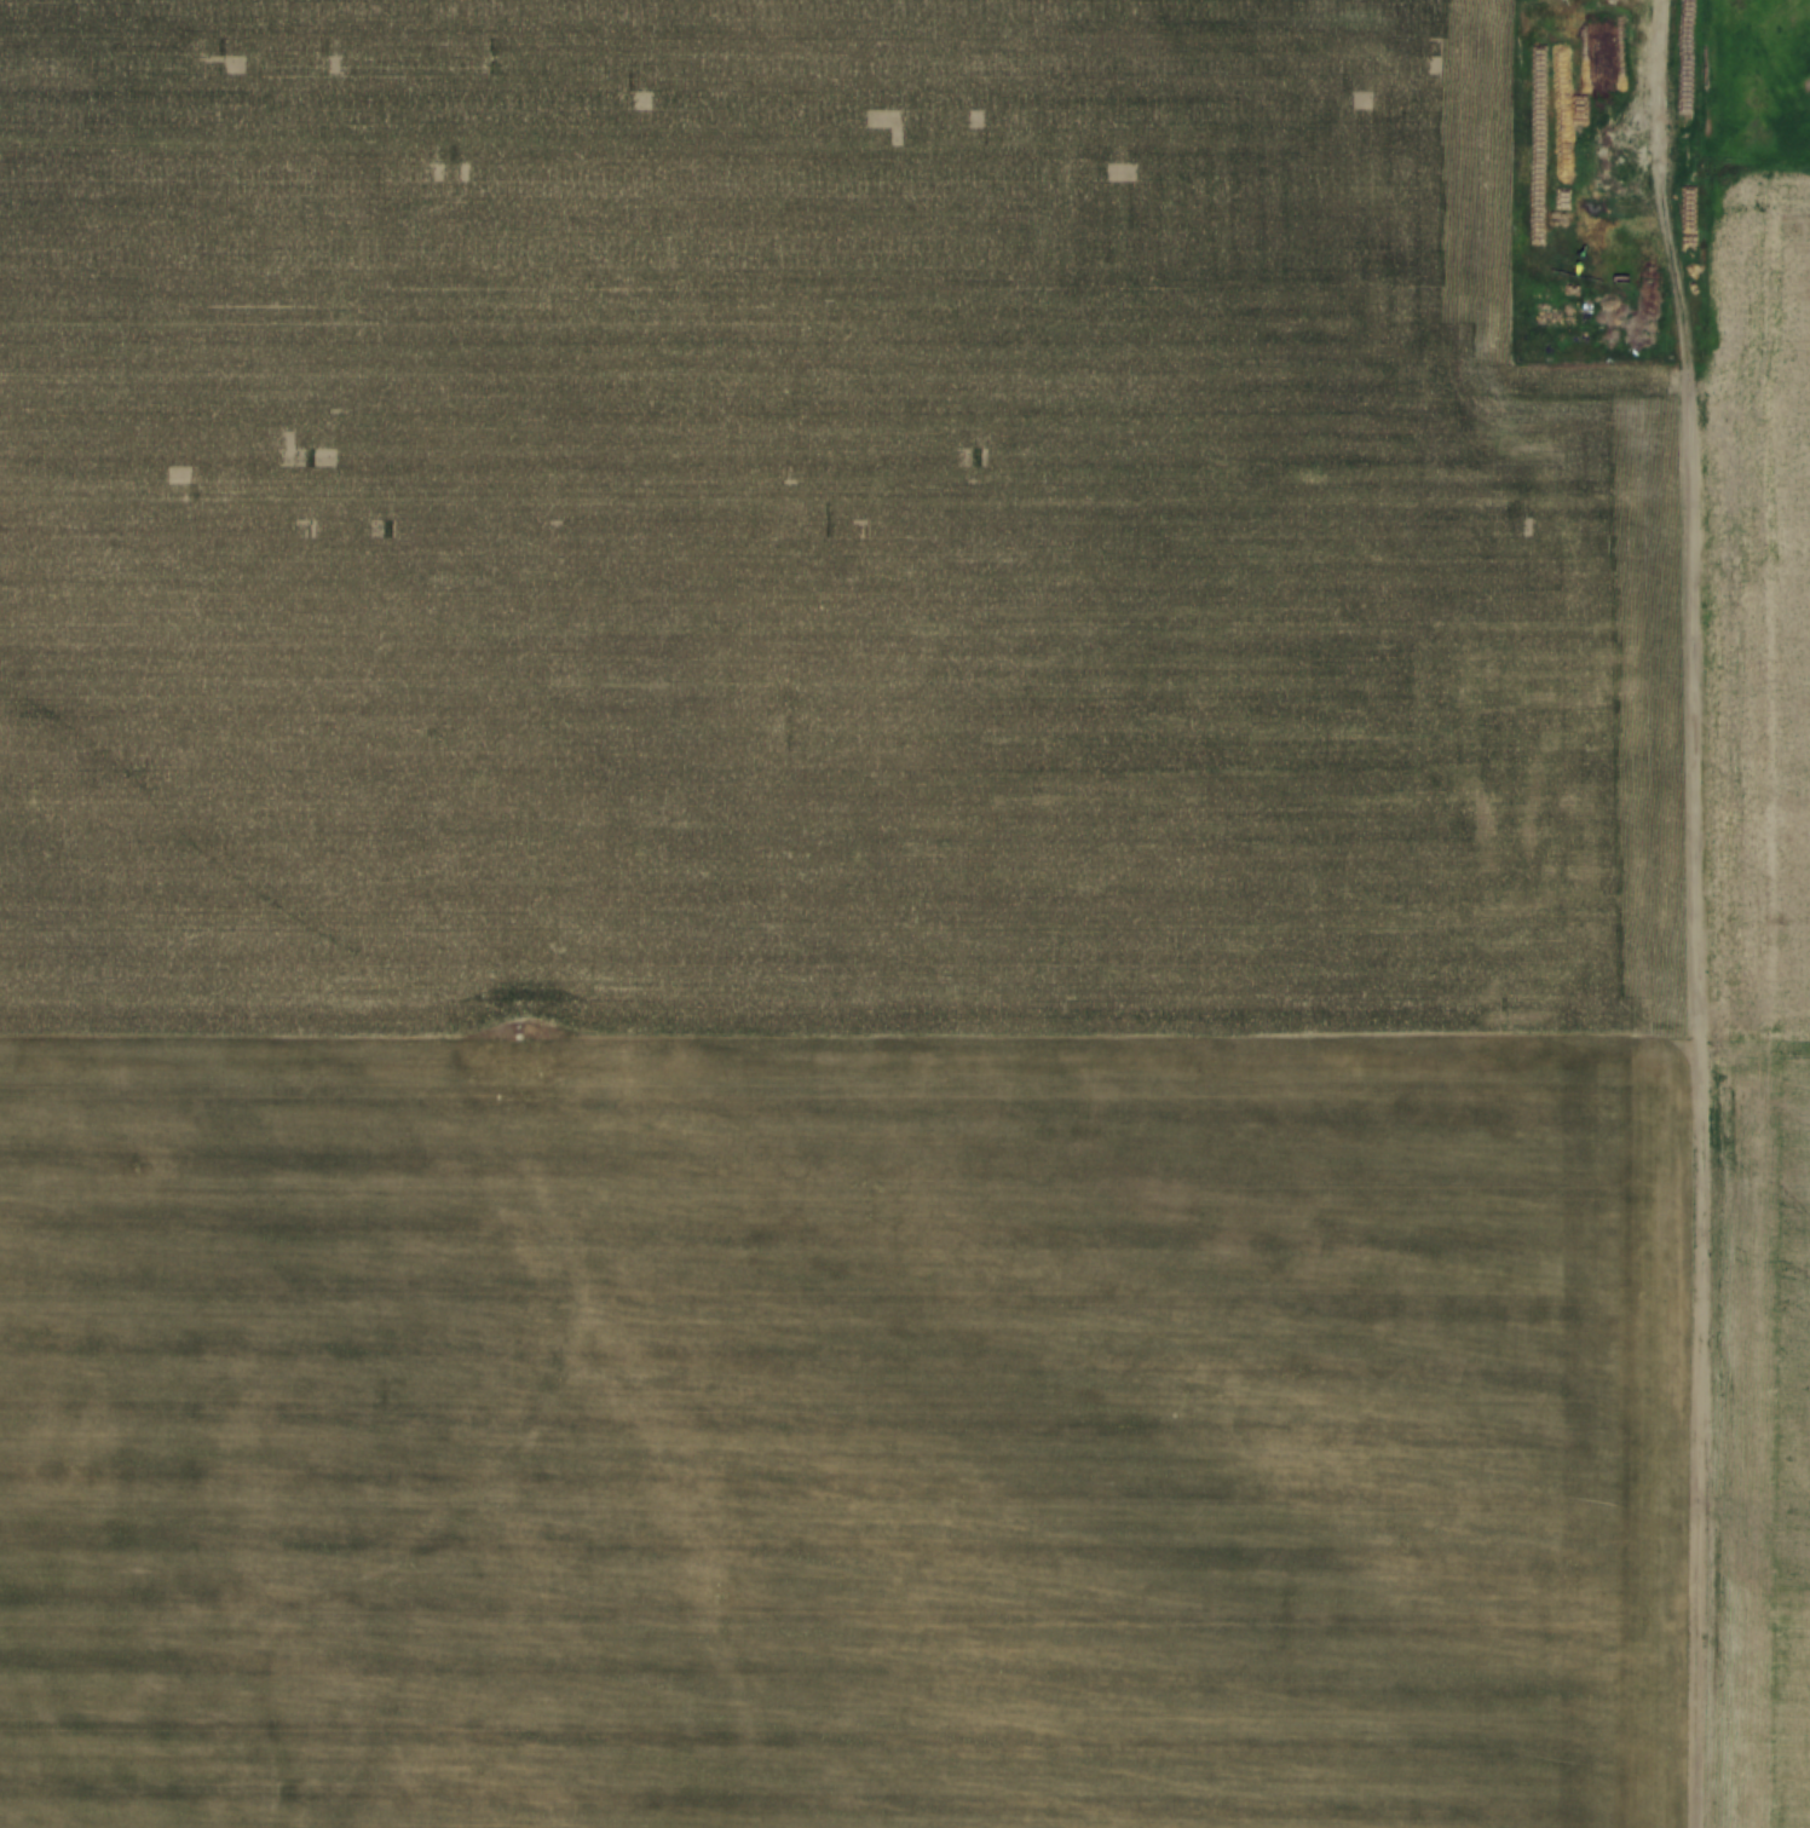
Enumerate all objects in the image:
road: (1661, 508)

